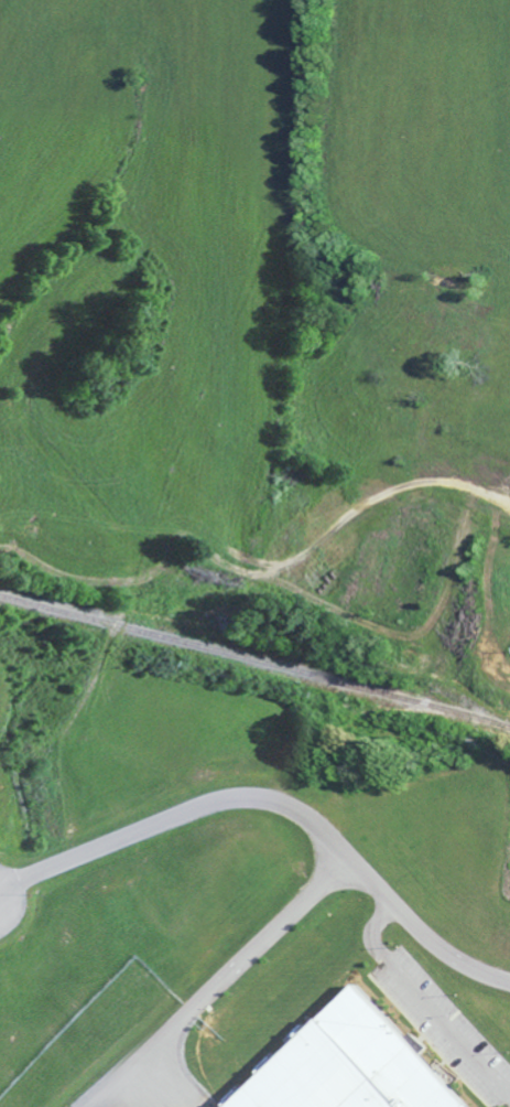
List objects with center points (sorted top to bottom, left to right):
railway: (254, 662)
building: (349, 1067)

